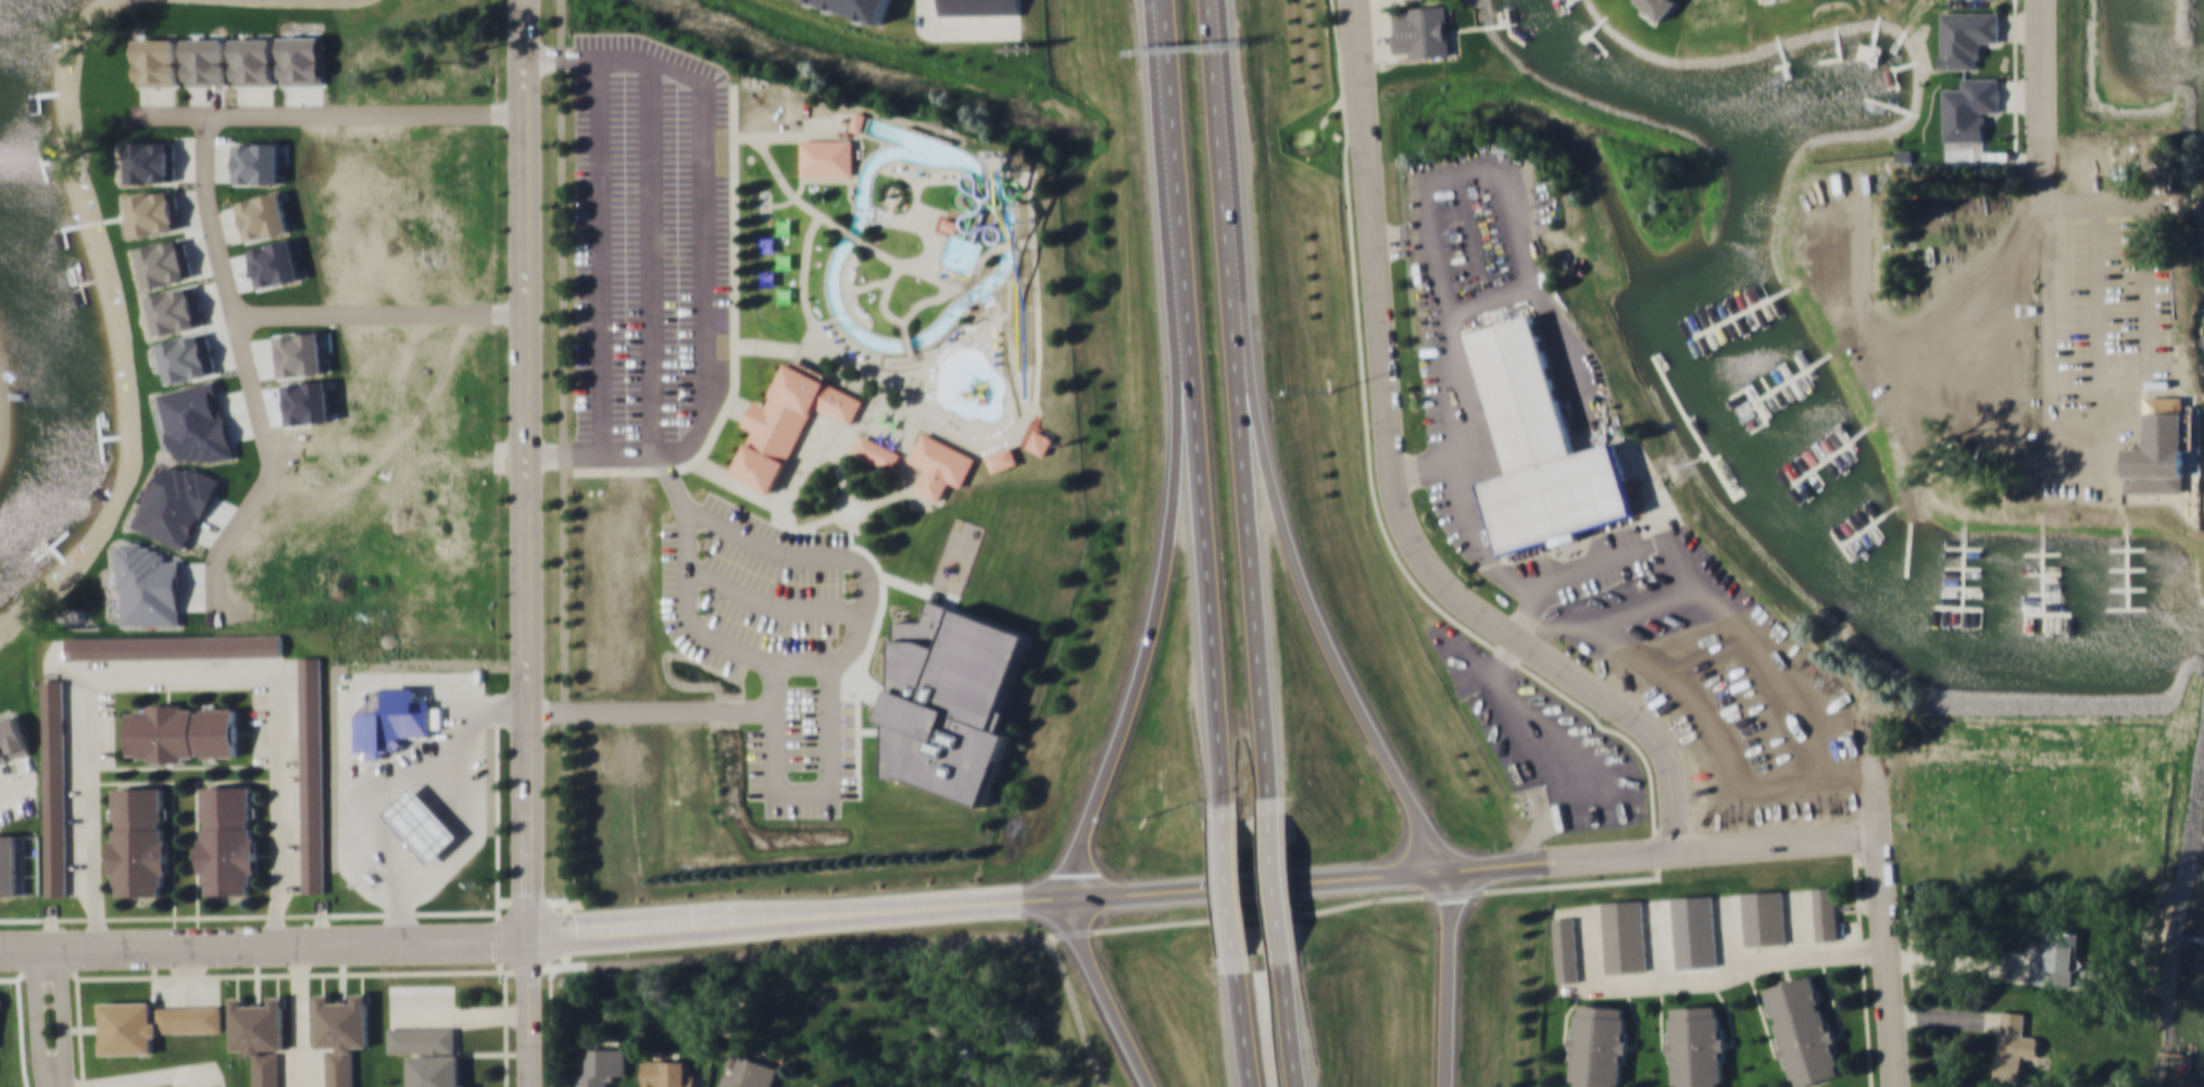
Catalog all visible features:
building: (865, 7)
building: (1658, 7)
building: (981, 8)
road: (928, 13)
road: (1166, 22)
building: (1423, 30)
building: (1967, 38)
road: (561, 59)
building: (1970, 110)
road: (322, 113)
building: (859, 122)
road: (723, 134)
road: (788, 134)
road: (1219, 140)
building: (827, 157)
road: (922, 173)
road: (1177, 173)
road: (818, 178)
road: (788, 189)
road: (916, 198)
road: (764, 202)
road: (891, 205)
road: (1031, 205)
road: (2043, 207)
building: (951, 223)
road: (921, 225)
road: (852, 232)
road: (1010, 242)
parking lot: (649, 249)
road: (650, 257)
water park: (916, 274)
road: (935, 274)
road: (878, 282)
road: (229, 287)
road: (848, 291)
road: (929, 299)
road: (887, 310)
road: (1000, 311)
road: (381, 312)
road: (955, 318)
road: (1038, 330)
road: (734, 337)
road: (910, 341)
road: (750, 343)
road: (1012, 348)
road: (931, 349)
road: (853, 361)
road: (893, 362)
street lamp: (1332, 389)
building: (788, 422)
road: (992, 427)
road: (1009, 428)
building: (1040, 441)
road: (397, 442)
building: (1543, 446)
road: (685, 448)
road: (563, 454)
building: (2159, 455)
building: (1001, 459)
building: (940, 464)
road: (526, 468)
road: (563, 468)
road: (672, 482)
road: (911, 485)
road: (1393, 489)
road: (889, 496)
road: (839, 500)
road: (782, 504)
road: (803, 523)
road: (1250, 543)
road: (762, 545)
building: (830, 552)
road: (1206, 557)
road: (917, 587)
road: (1302, 587)
building: (711, 594)
building: (872, 604)
road: (772, 605)
road: (1159, 607)
road: (864, 611)
road: (280, 625)
road: (702, 633)
parking lot: (776, 639)
building: (175, 646)
road: (859, 659)
road: (184, 678)
road: (868, 685)
building: (1014, 695)
building: (952, 697)
road: (650, 710)
road: (854, 730)
building: (183, 732)
building: (11, 738)
road: (2008, 750)
road: (185, 765)
building: (312, 773)
road: (13, 784)
building: (54, 786)
road: (801, 789)
street lamp: (1145, 819)
road: (195, 821)
road: (172, 823)
building: (228, 838)
building: (139, 839)
road: (1779, 846)
building: (8, 863)
road: (1278, 886)
road: (1231, 888)
road: (1360, 901)
road: (498, 902)
road: (1884, 908)
building: (1826, 913)
road: (185, 916)
road: (840, 916)
building: (1764, 917)
building: (1694, 932)
building: (1624, 936)
road: (873, 944)
building: (1566, 950)
building: (2056, 959)
road: (1741, 970)
road: (267, 974)
road: (1449, 977)
road: (1103, 995)
road: (61, 1012)
road: (527, 1012)
road: (35, 1014)
building: (150, 1023)
road: (1290, 1025)
road: (1243, 1026)
building: (1802, 1029)
building: (341, 1033)
building: (260, 1036)
building: (1600, 1046)
building: (1698, 1046)
building: (2014, 1046)
building: (427, 1054)
building: (602, 1066)
building: (667, 1072)
building: (749, 1072)
road: (55, 1083)
building: (208, 1086)
building: (817, 1086)

